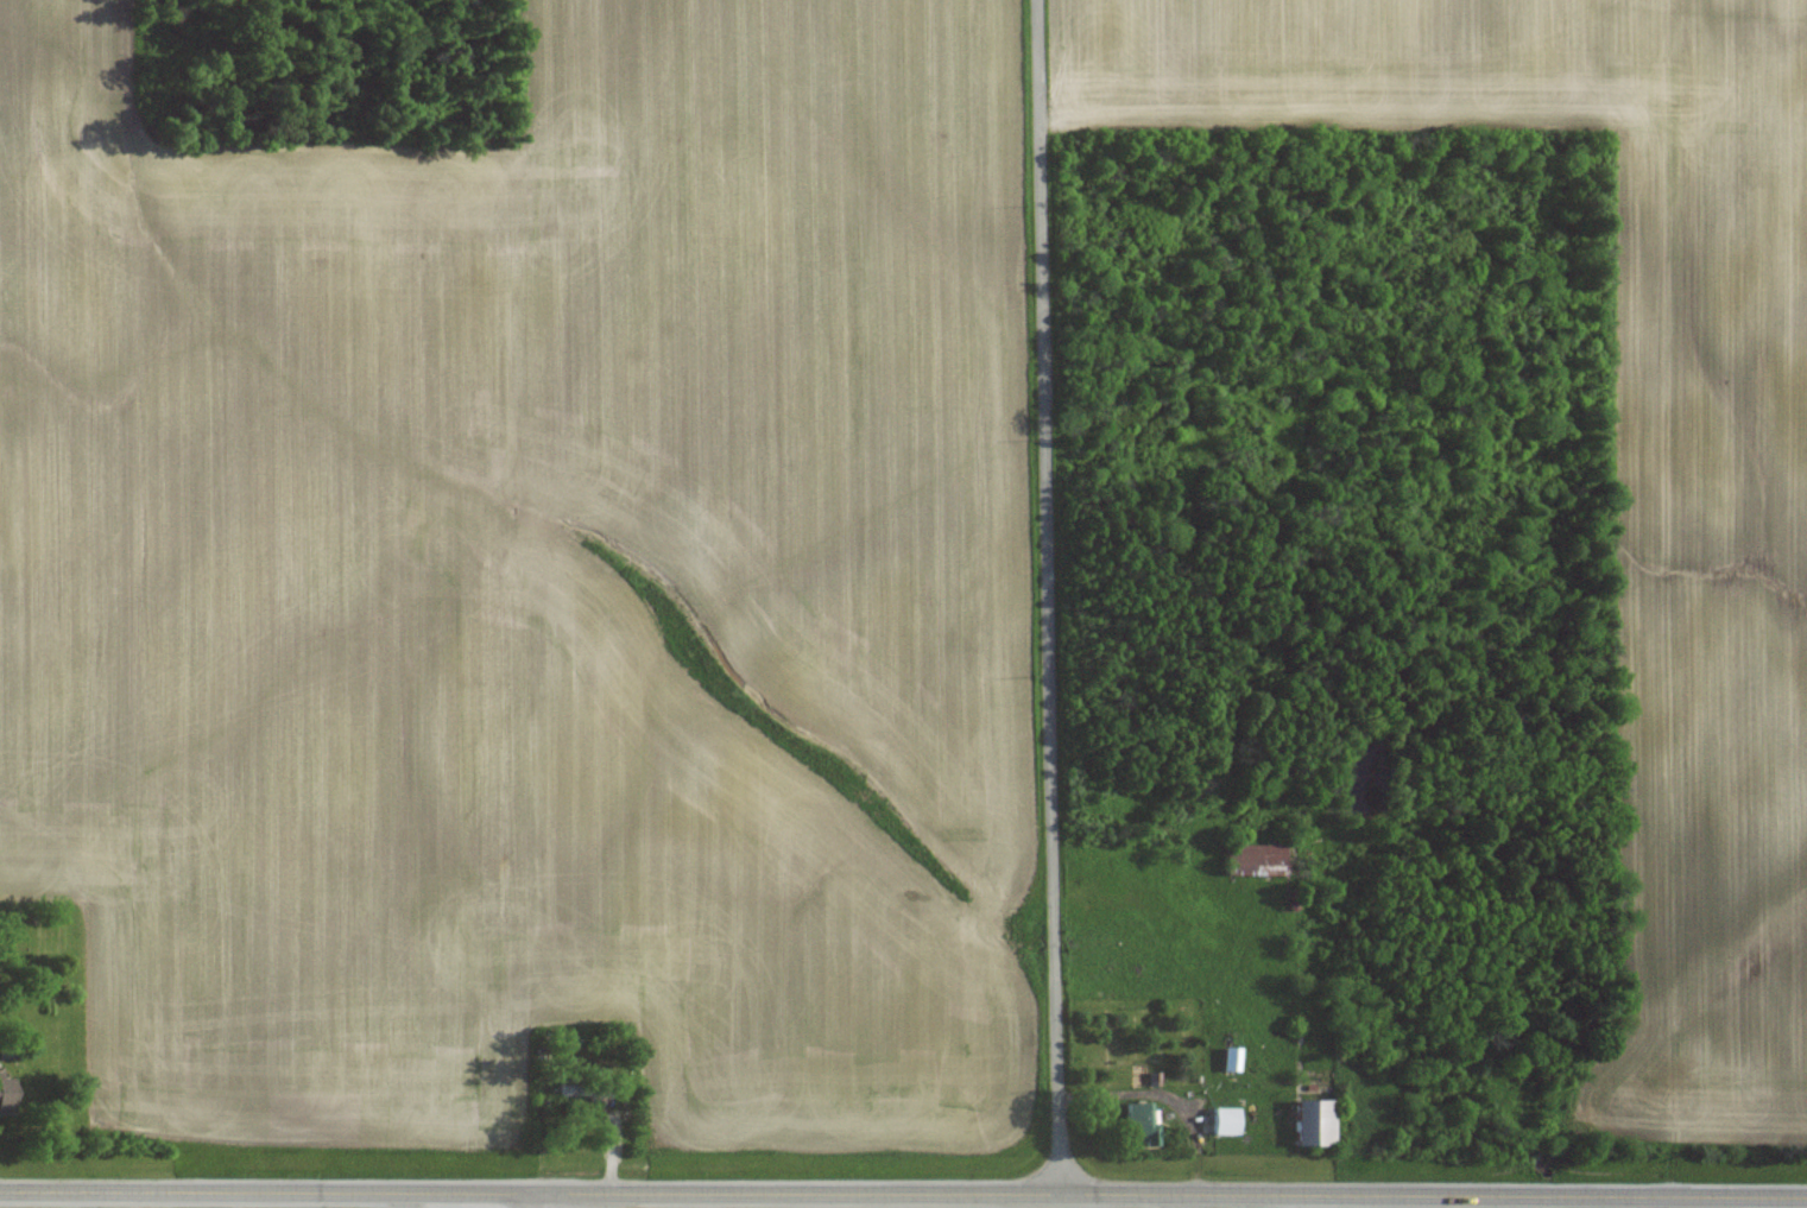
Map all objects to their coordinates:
road: (1048, 597)
building: (1257, 858)
building: (1233, 1057)
building: (1227, 1119)
building: (1318, 1121)
road: (903, 1195)
road: (543, 1201)

